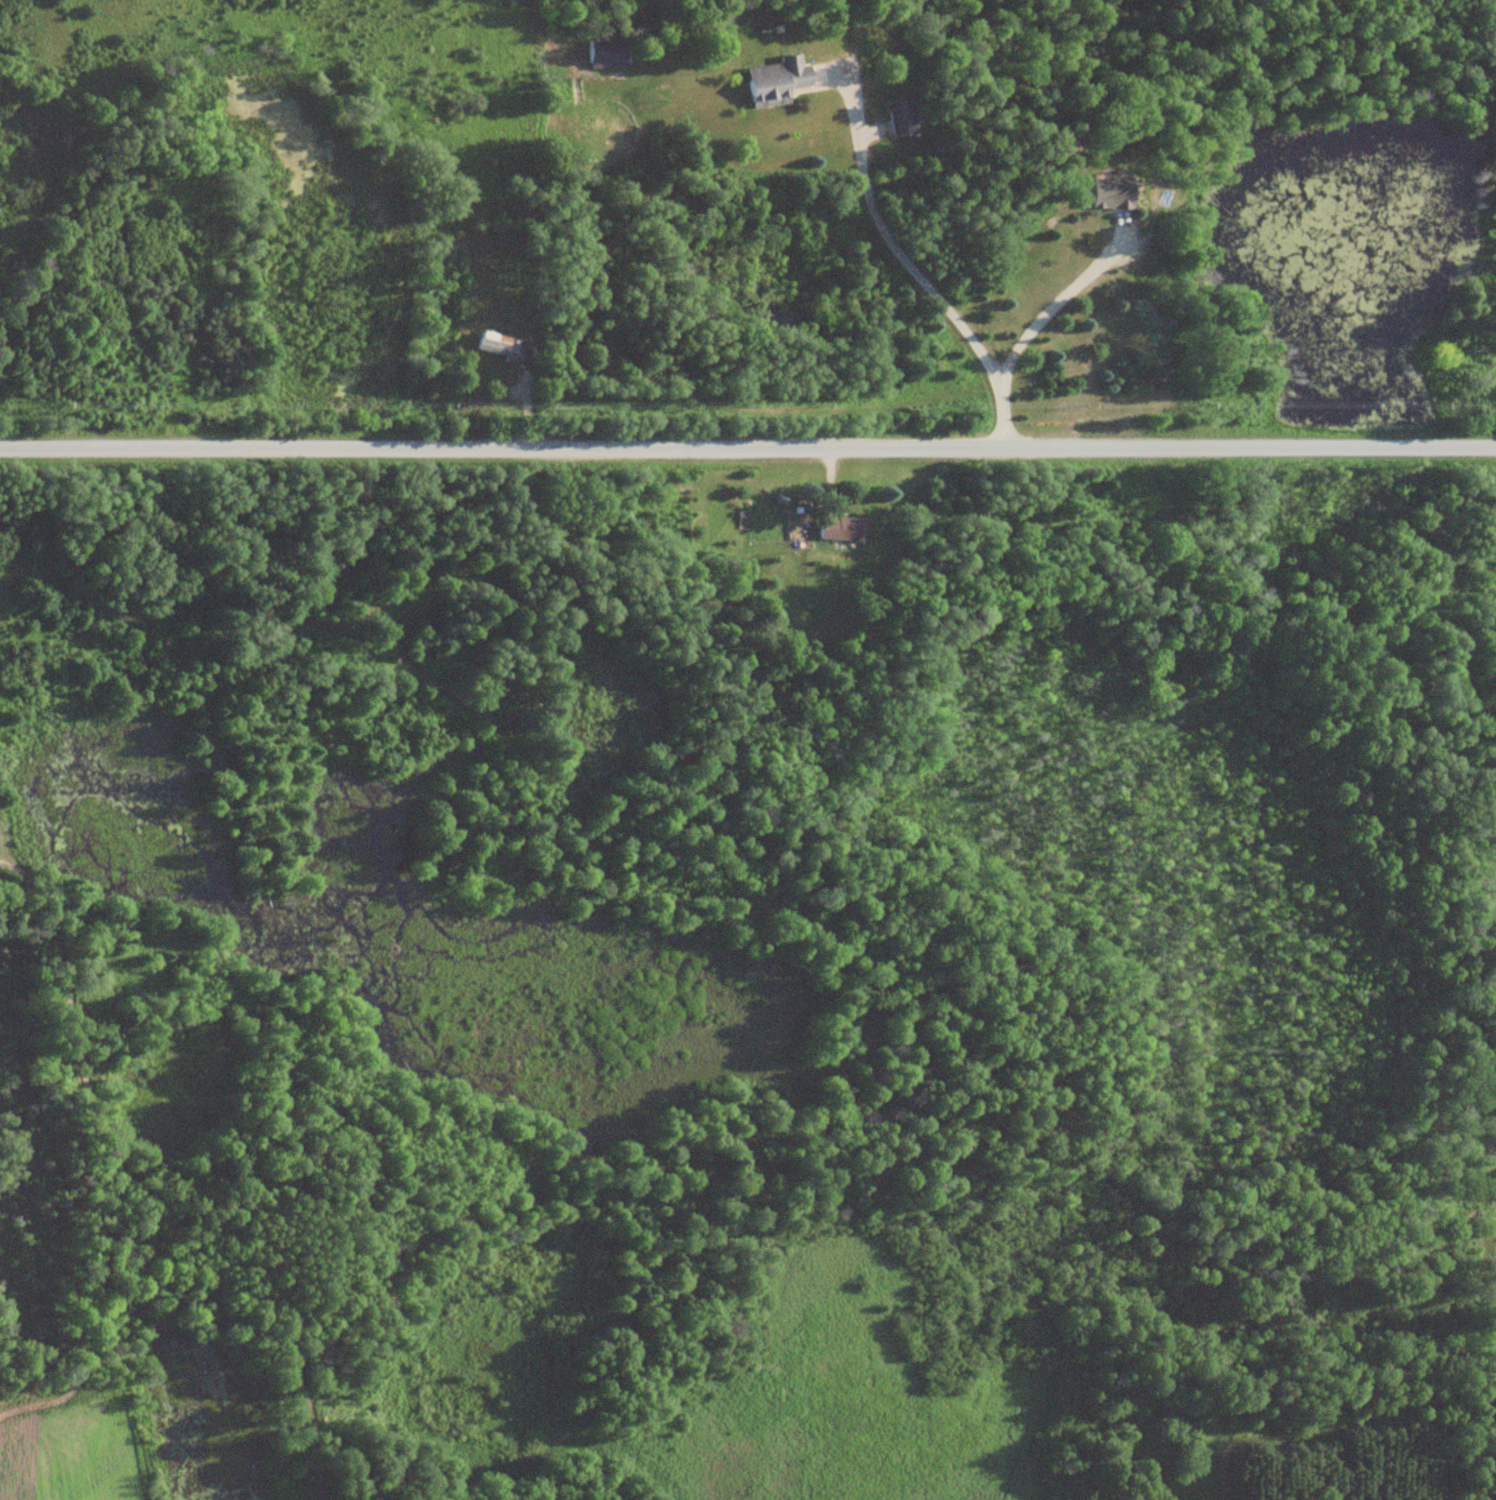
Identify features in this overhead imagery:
building: (610, 54)
building: (779, 81)
building: (903, 117)
building: (1115, 193)
building: (500, 347)
road: (748, 440)
building: (849, 527)

